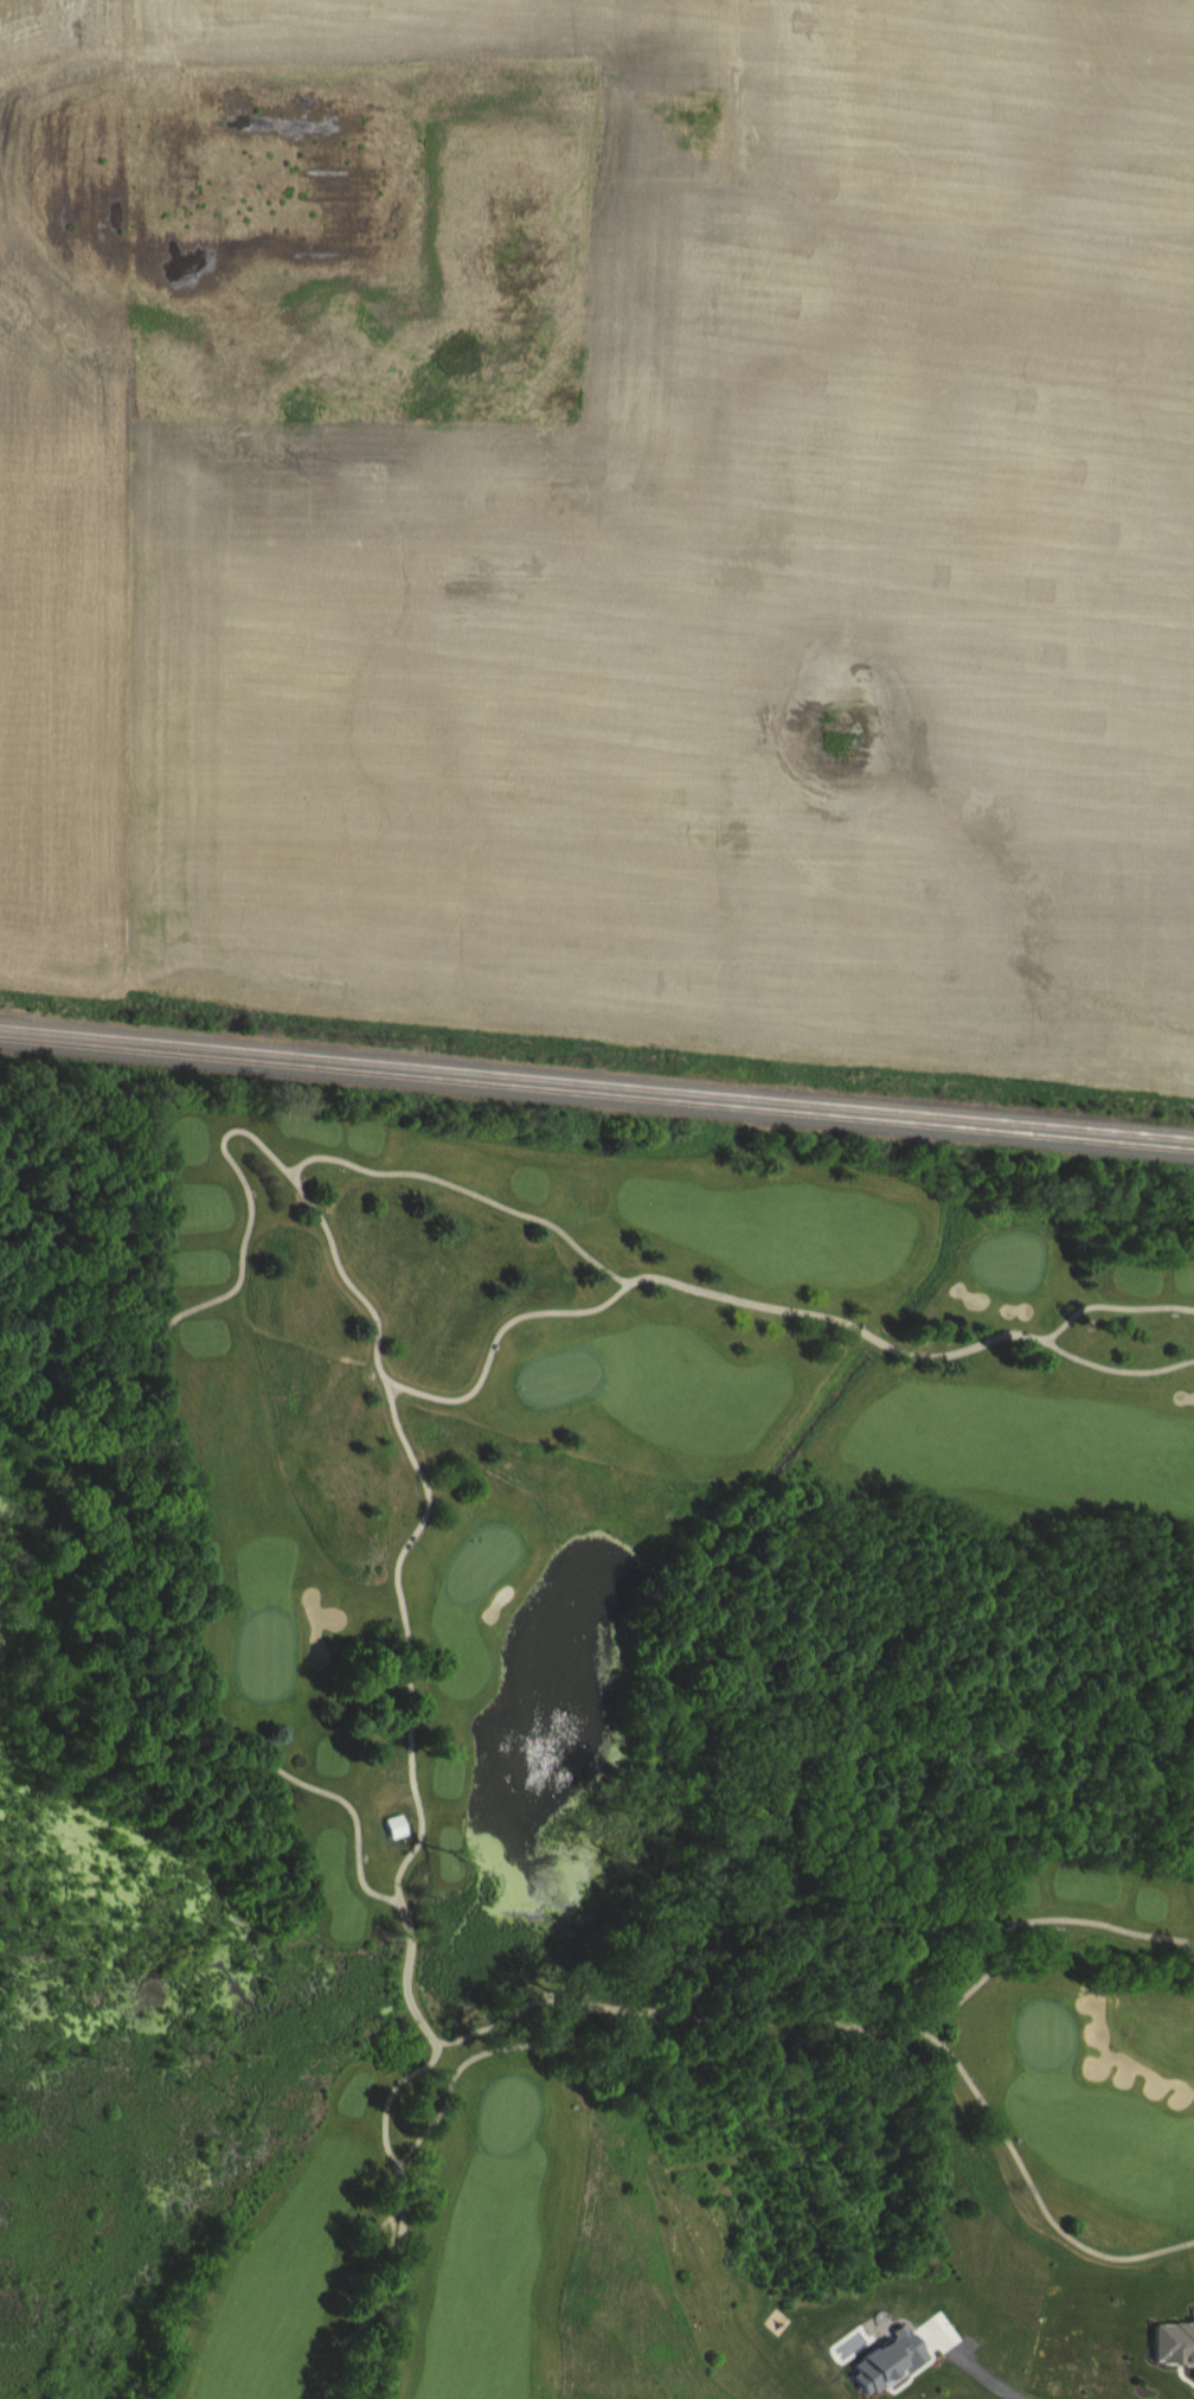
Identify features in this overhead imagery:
railway: (597, 1083)
railway: (597, 1095)
road: (495, 1201)
road: (1112, 1304)
road: (836, 1319)
road: (1116, 1367)
road: (409, 1707)
building: (394, 1825)
road: (1021, 1919)
road: (1186, 1938)
road: (742, 2020)
road: (531, 2039)
road: (386, 2110)
road: (1033, 2182)
road: (377, 2301)
road: (984, 2367)

